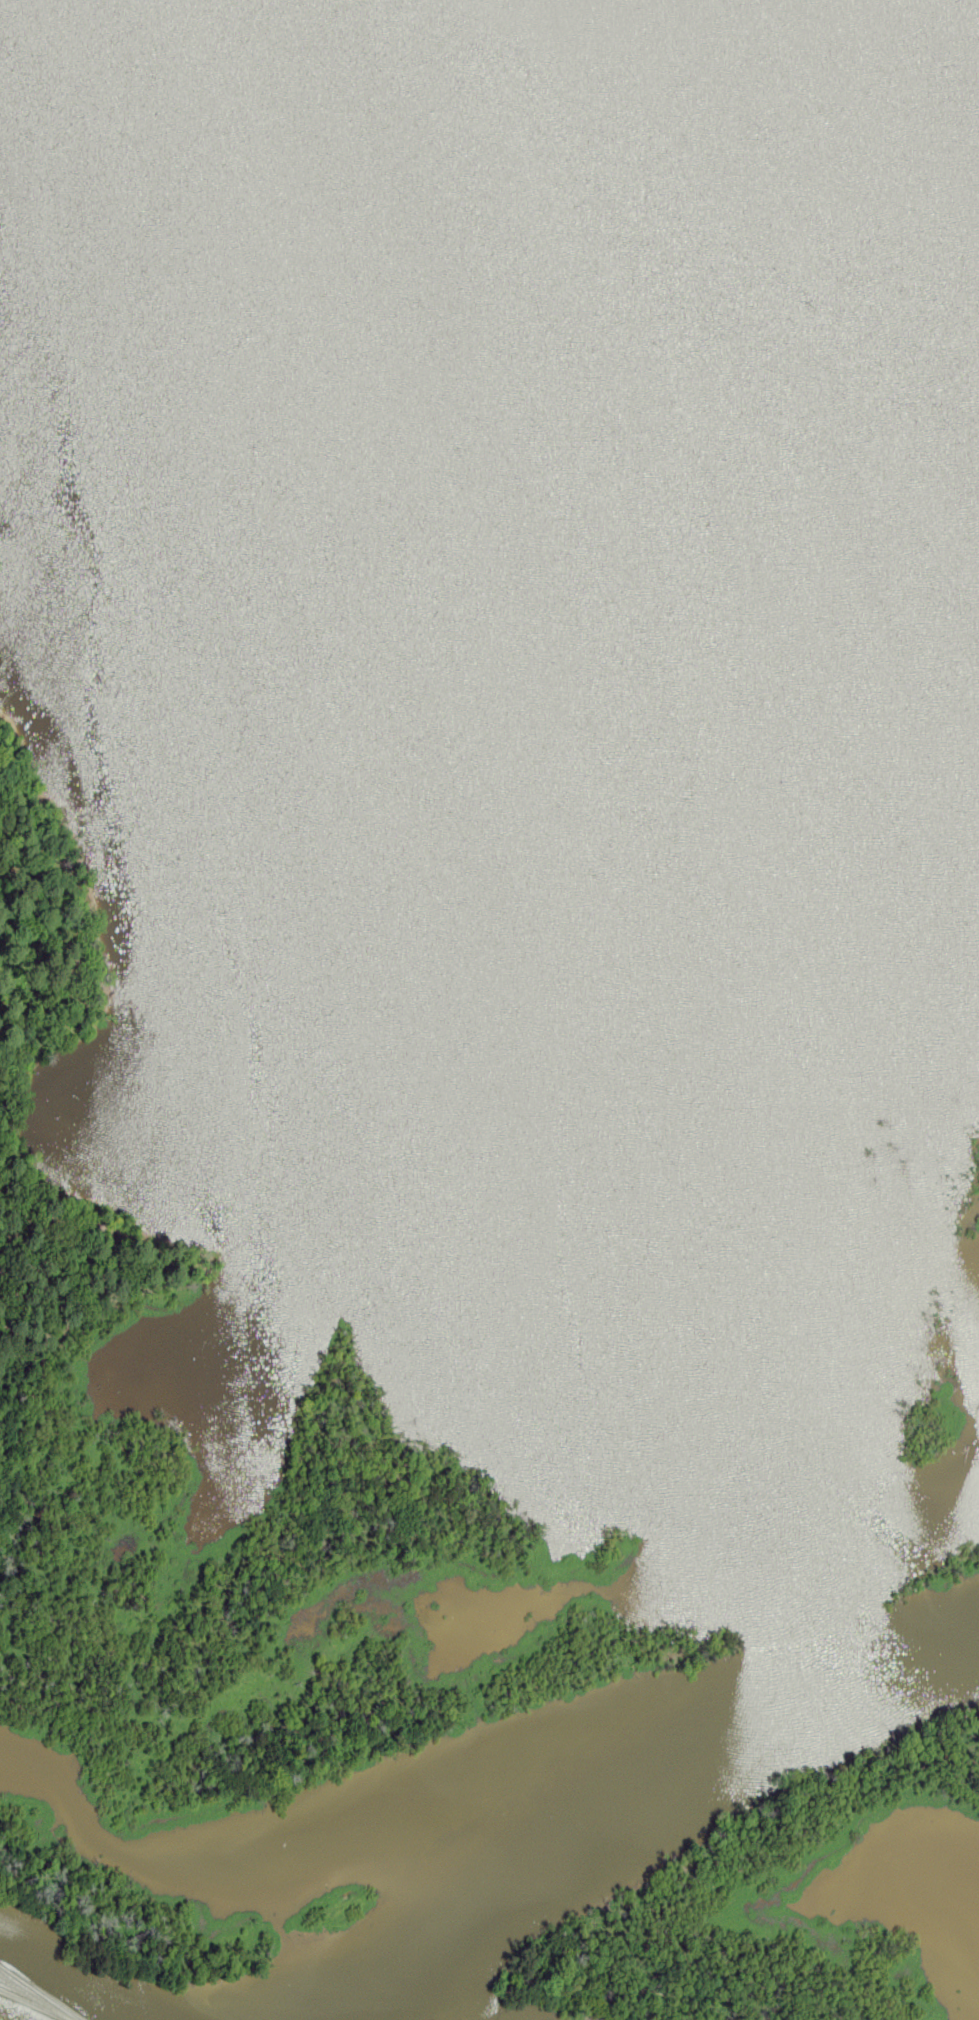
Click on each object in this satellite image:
river: (642, 1821)
river: (16, 2012)

